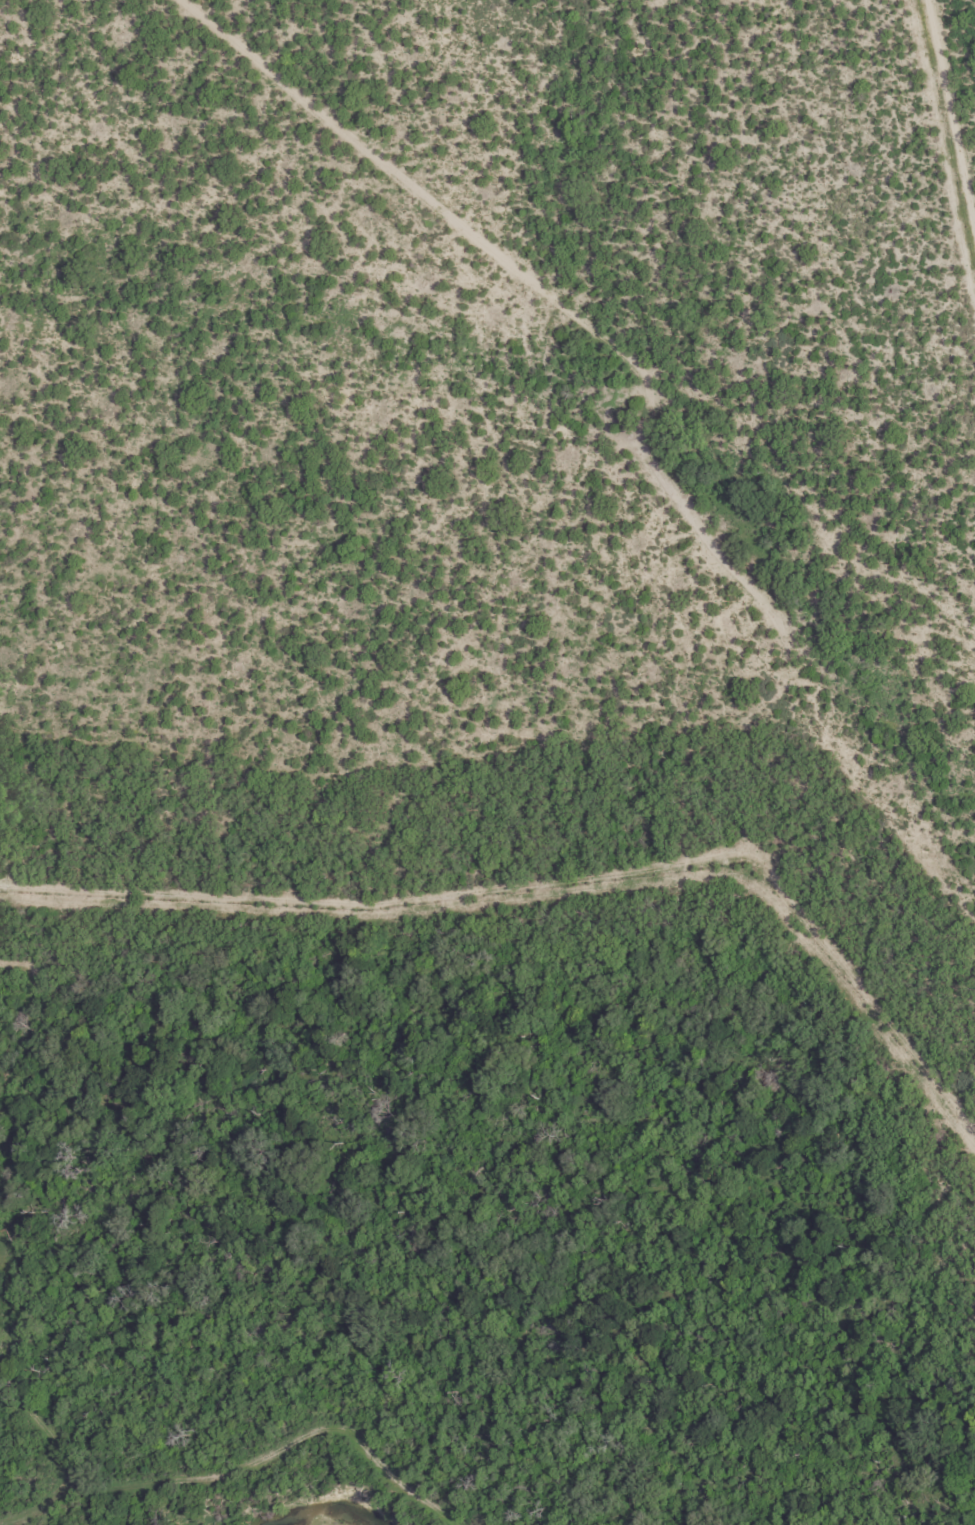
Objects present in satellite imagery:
road: (955, 103)
road: (540, 882)
road: (2, 1333)
road: (225, 1475)

